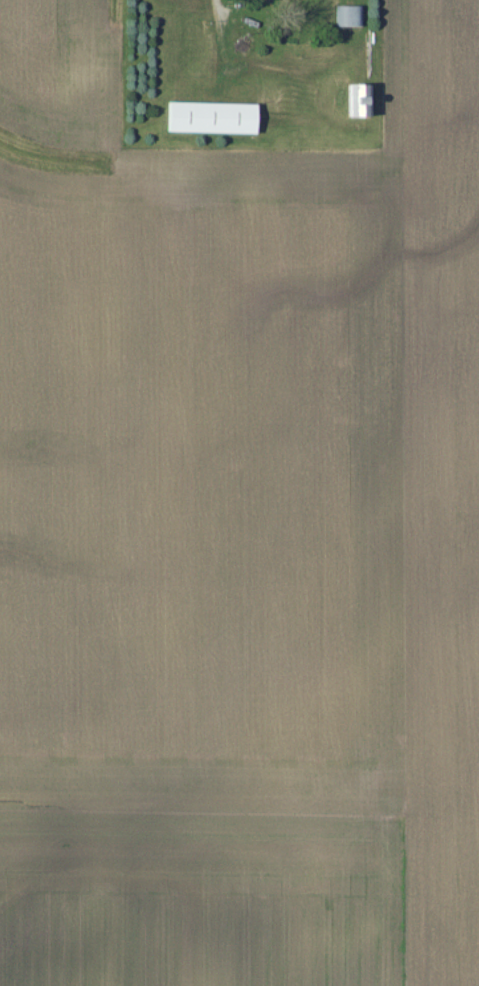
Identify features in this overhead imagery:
road: (216, 4)
building: (215, 118)

